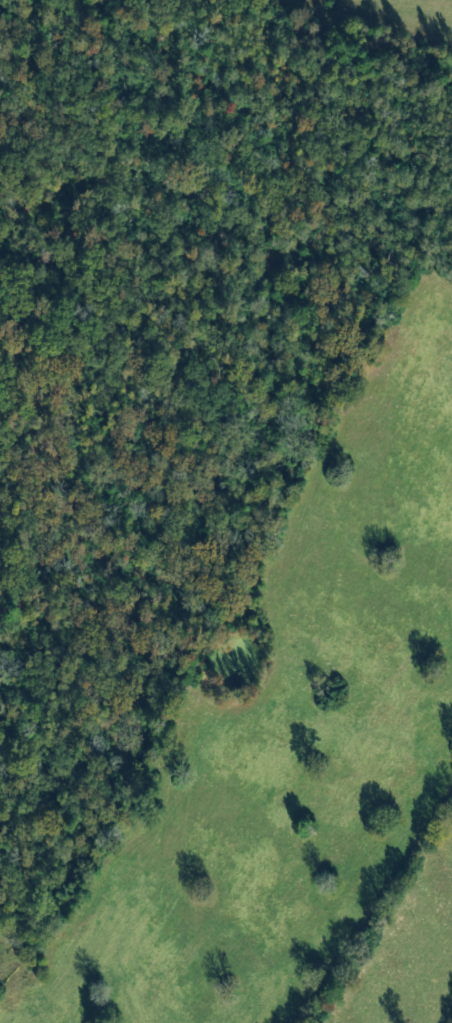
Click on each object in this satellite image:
road: (391, 935)

